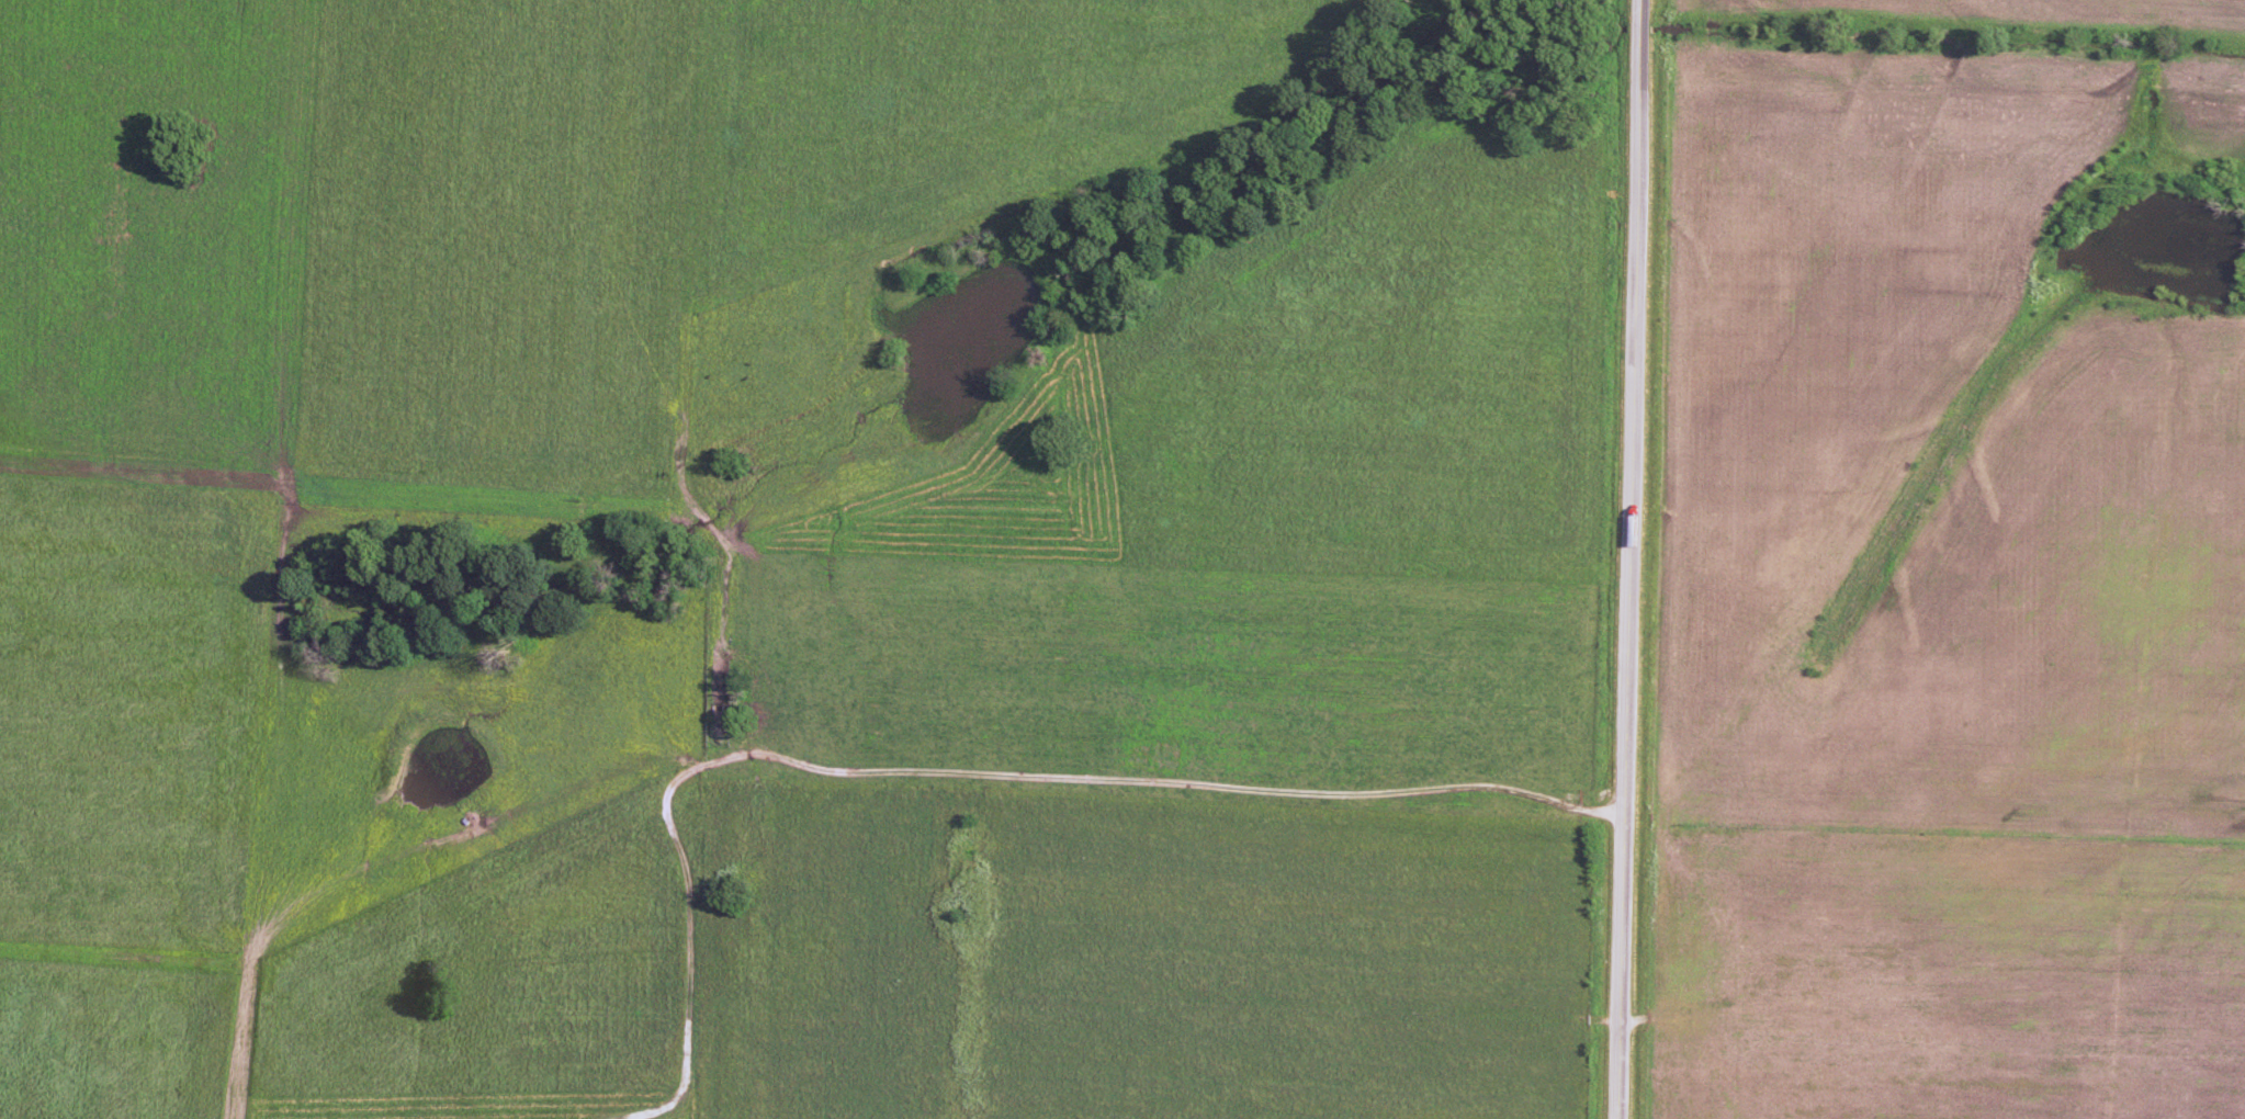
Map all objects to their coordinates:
road: (1628, 559)

